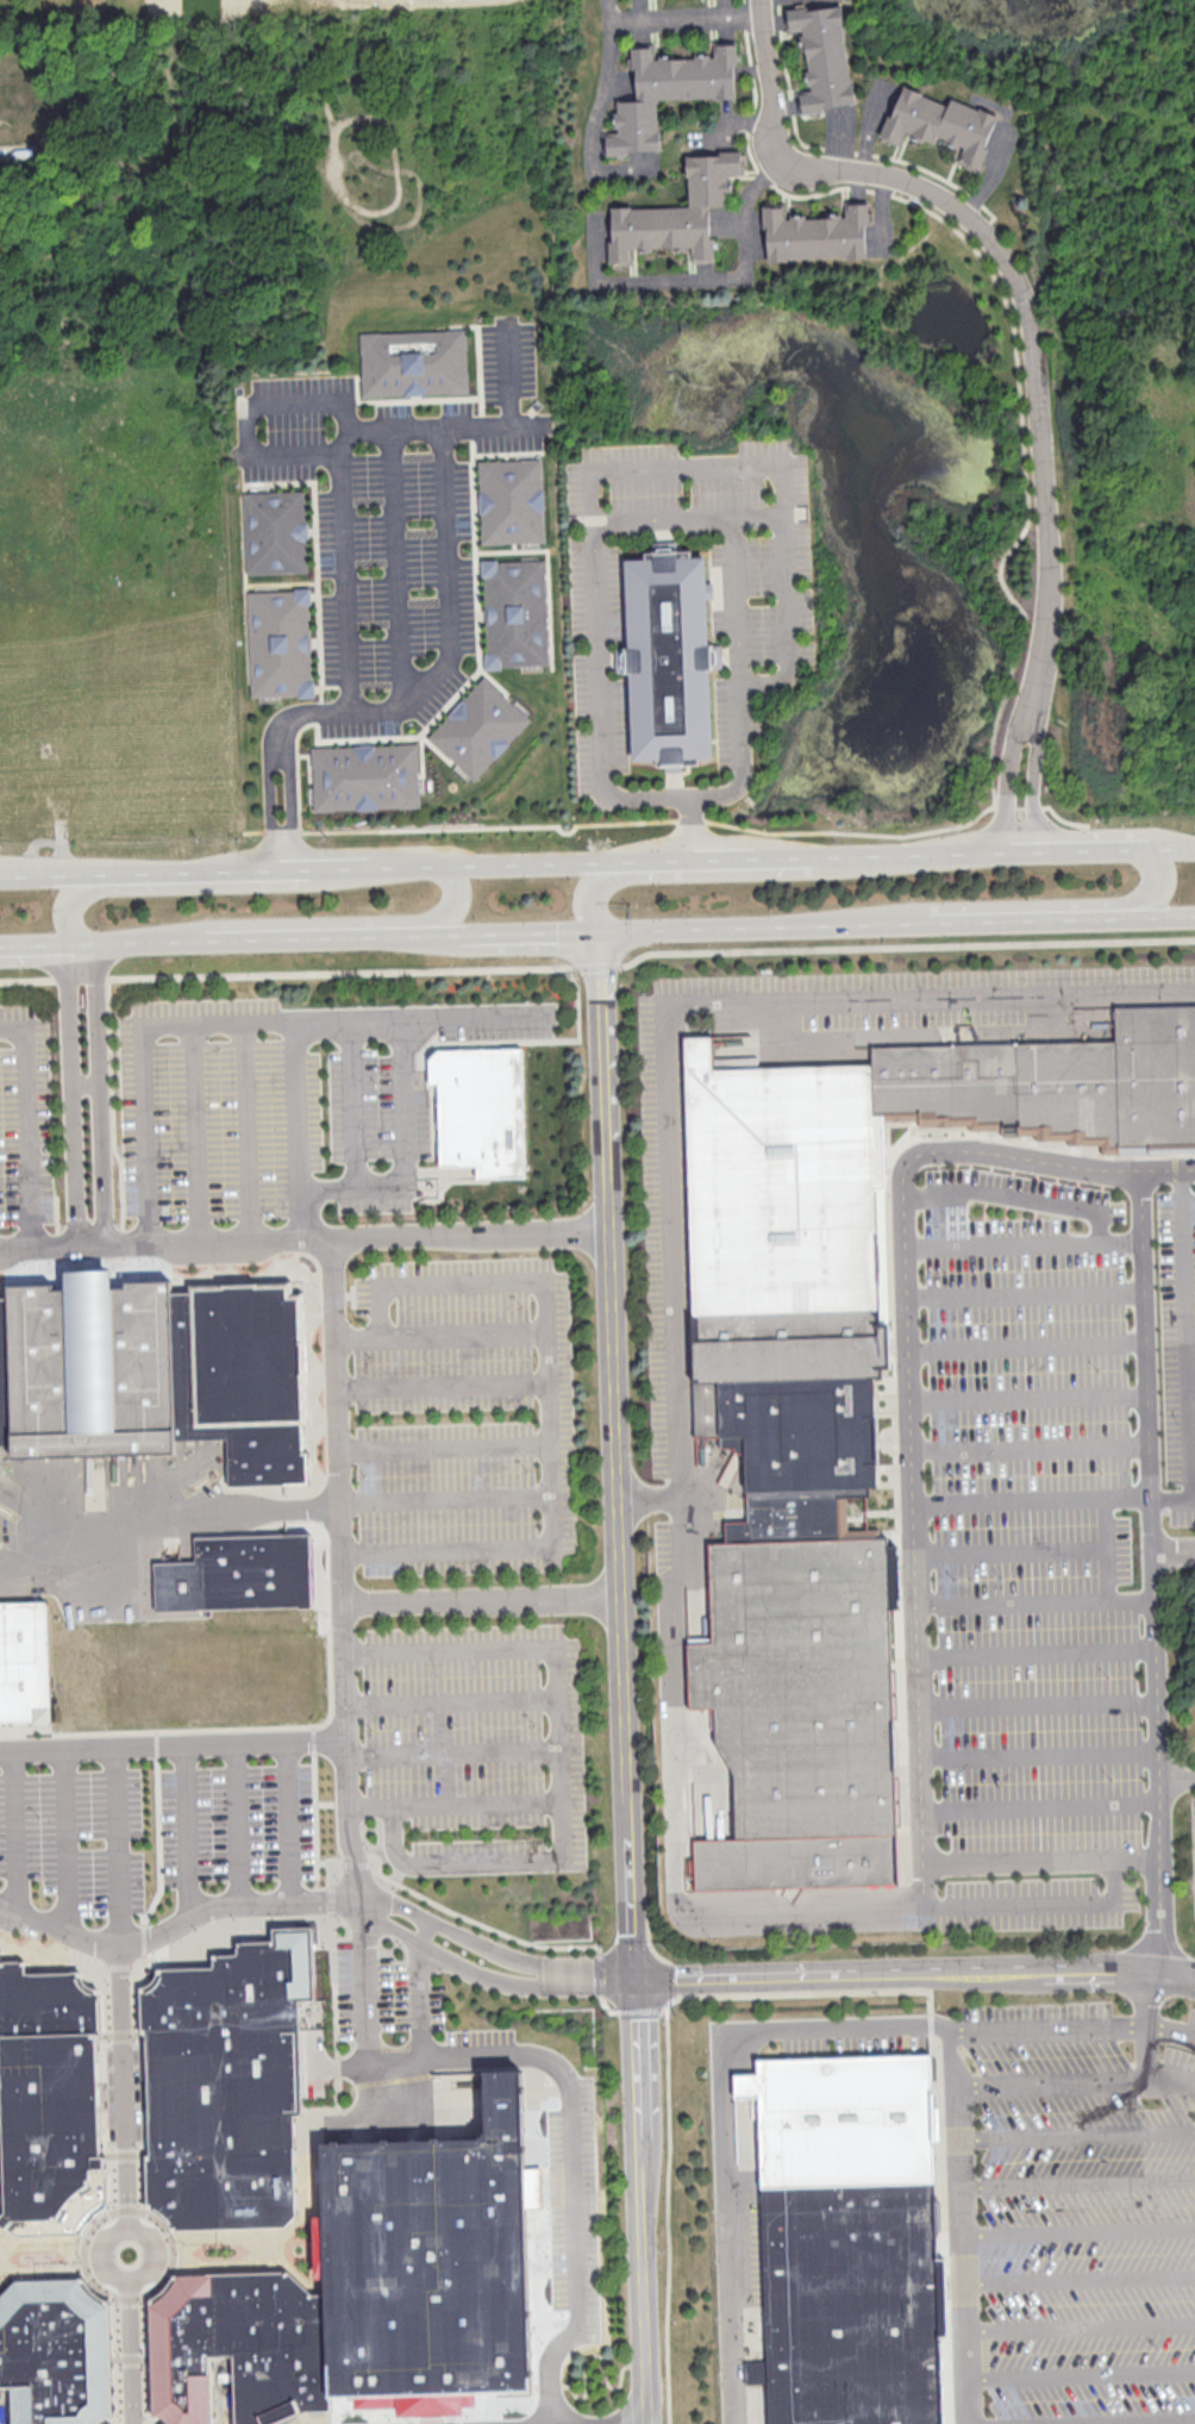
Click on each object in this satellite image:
road: (677, 14)
building: (824, 56)
building: (669, 90)
road: (603, 92)
road: (327, 102)
building: (940, 123)
road: (851, 151)
road: (418, 204)
road: (377, 212)
building: (678, 213)
building: (815, 233)
road: (737, 276)
road: (1013, 279)
road: (1011, 323)
building: (414, 361)
road: (508, 371)
road: (244, 412)
road: (494, 424)
road: (439, 433)
road: (782, 475)
building: (512, 499)
road: (687, 516)
building: (275, 531)
road: (398, 562)
road: (736, 599)
building: (515, 613)
building: (280, 643)
building: (670, 658)
road: (600, 700)
road: (1028, 718)
building: (478, 727)
road: (740, 761)
road: (269, 775)
building: (365, 776)
road: (289, 782)
road: (669, 819)
road: (689, 826)
road: (1163, 844)
road: (1080, 846)
road: (920, 850)
road: (753, 855)
road: (655, 857)
road: (489, 861)
road: (337, 863)
road: (202, 866)
road: (48, 869)
road: (1159, 880)
road: (590, 895)
road: (461, 896)
road: (74, 907)
road: (1163, 916)
road: (1028, 919)
road: (762, 931)
road: (465, 936)
road: (327, 937)
road: (542, 937)
traffic signals: (599, 939)
road: (134, 941)
road: (32, 944)
road: (599, 964)
road: (236, 1022)
road: (790, 1049)
road: (750, 1051)
road: (87, 1085)
road: (71, 1093)
road: (104, 1093)
road: (403, 1101)
road: (349, 1102)
building: (481, 1108)
parking lot: (221, 1112)
parking lot: (27, 1120)
road: (26, 1126)
road: (295, 1129)
road: (245, 1131)
road: (195, 1132)
road: (352, 1187)
road: (1014, 1197)
road: (306, 1238)
road: (1022, 1242)
road: (414, 1288)
road: (1024, 1291)
road: (676, 1316)
road: (1185, 1331)
road: (440, 1335)
road: (1026, 1342)
road: (1145, 1361)
building: (157, 1373)
road: (1190, 1380)
road: (442, 1385)
road: (907, 1387)
road: (1027, 1394)
building: (843, 1395)
parking lot: (464, 1417)
road: (444, 1445)
road: (1028, 1447)
road: (1172, 1494)
road: (1030, 1497)
road: (653, 1498)
road: (445, 1499)
road: (163, 1517)
road: (553, 1519)
parking lot: (1044, 1533)
road: (1105, 1547)
road: (1008, 1549)
road: (340, 1569)
building: (239, 1575)
road: (1130, 1598)
road: (1011, 1599)
road: (481, 1601)
road: (1036, 1650)
building: (27, 1664)
road: (622, 1681)
road: (451, 1701)
road: (1037, 1701)
parking lot: (478, 1738)
road: (1157, 1739)
road: (174, 1744)
road: (1039, 1753)
road: (453, 1756)
road: (1177, 1779)
road: (1040, 1804)
road: (371, 1805)
road: (289, 1820)
road: (238, 1823)
road: (15, 1831)
road: (188, 1831)
road: (64, 1838)
road: (561, 1841)
road: (118, 1845)
road: (1040, 1860)
road: (359, 1863)
road: (332, 1867)
road: (333, 1901)
road: (1039, 1903)
road: (480, 1923)
road: (333, 1925)
road: (174, 1926)
road: (425, 1931)
road: (490, 1949)
road: (119, 1967)
road: (914, 1973)
road: (484, 1975)
traffic signals: (633, 1980)
road: (605, 2005)
road: (1076, 2030)
road: (1147, 2030)
road: (837, 2035)
road: (105, 2037)
road: (378, 2053)
road: (345, 2064)
road: (1172, 2079)
road: (1055, 2081)
building: (229, 2082)
road: (124, 2089)
building: (49, 2101)
building: (743, 2107)
road: (1078, 2134)
road: (571, 2166)
road: (1078, 2180)
parking lot: (1070, 2195)
road: (668, 2217)
road: (96, 2222)
road: (1078, 2231)
road: (115, 2237)
building: (852, 2238)
road: (39, 2242)
road: (542, 2253)
road: (250, 2261)
road: (40, 2270)
road: (1078, 2278)
building: (374, 2291)
road: (1080, 2326)
road: (132, 2348)
building: (55, 2351)
road: (589, 2355)
road: (149, 2359)
road: (113, 2360)
building: (756, 2372)
road: (1080, 2374)

